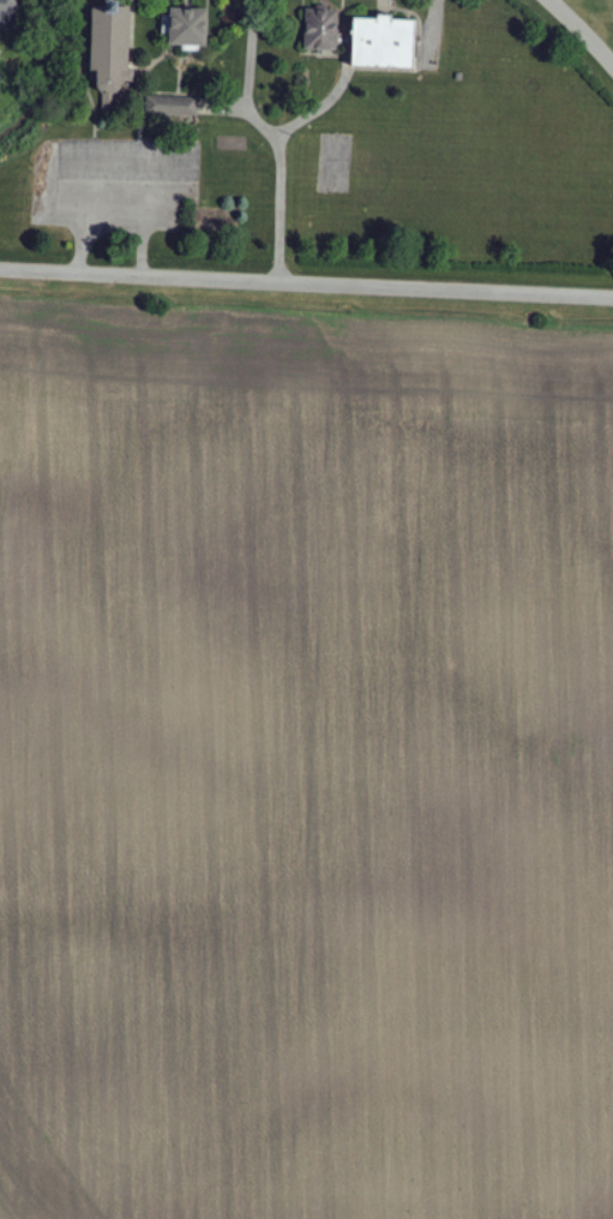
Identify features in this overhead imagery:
building: (8, 11)
building: (188, 28)
building: (321, 30)
road: (582, 31)
building: (384, 43)
building: (110, 48)
building: (172, 106)
road: (260, 124)
road: (282, 208)
road: (140, 274)
road: (447, 289)
crop: (305, 769)

